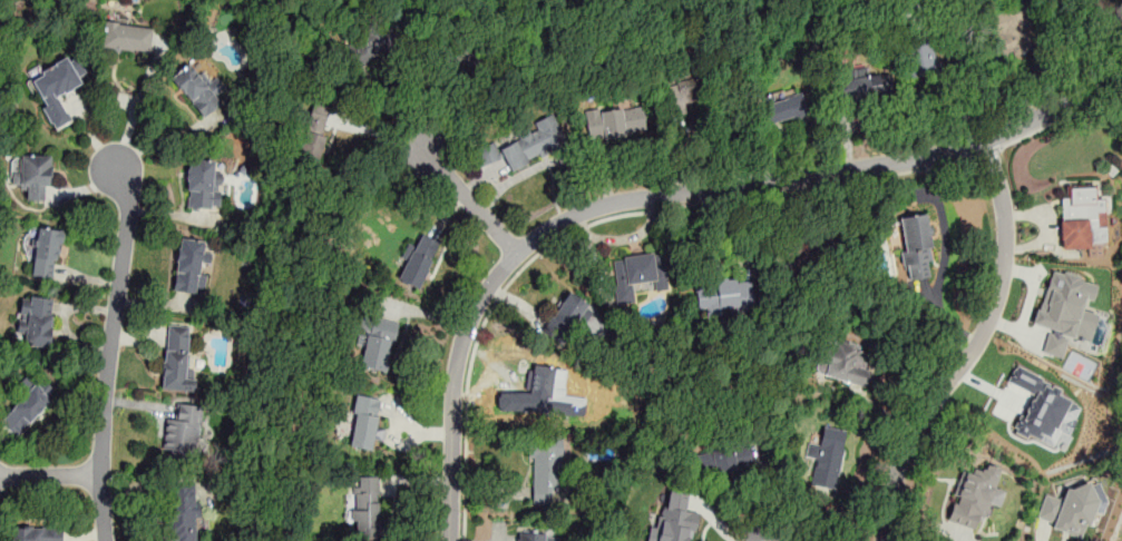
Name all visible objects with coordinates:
building: (1011, 30)
building: (126, 36)
building: (371, 45)
building: (468, 56)
building: (921, 56)
building: (865, 85)
building: (56, 88)
building: (197, 89)
building: (684, 91)
building: (781, 108)
road: (135, 110)
road: (1063, 116)
building: (614, 122)
building: (314, 130)
building: (527, 144)
road: (988, 151)
building: (32, 175)
building: (203, 184)
road: (672, 194)
road: (470, 201)
road: (602, 219)
building: (1082, 219)
building: (917, 247)
building: (811, 252)
building: (46, 253)
building: (420, 260)
building: (189, 265)
building: (635, 274)
building: (724, 295)
building: (1065, 311)
building: (565, 316)
building: (37, 321)
building: (375, 345)
road: (972, 346)
road: (110, 350)
building: (176, 358)
building: (847, 363)
building: (542, 385)
building: (1042, 406)
building: (25, 410)
building: (1024, 410)
building: (364, 430)
building: (182, 433)
building: (828, 456)
building: (722, 461)
building: (546, 469)
road: (50, 474)
road: (162, 480)
road: (839, 485)
building: (974, 493)
building: (365, 508)
building: (1070, 510)
building: (182, 511)
road: (820, 513)
building: (673, 520)
road: (767, 532)
building: (37, 533)
building: (545, 537)

